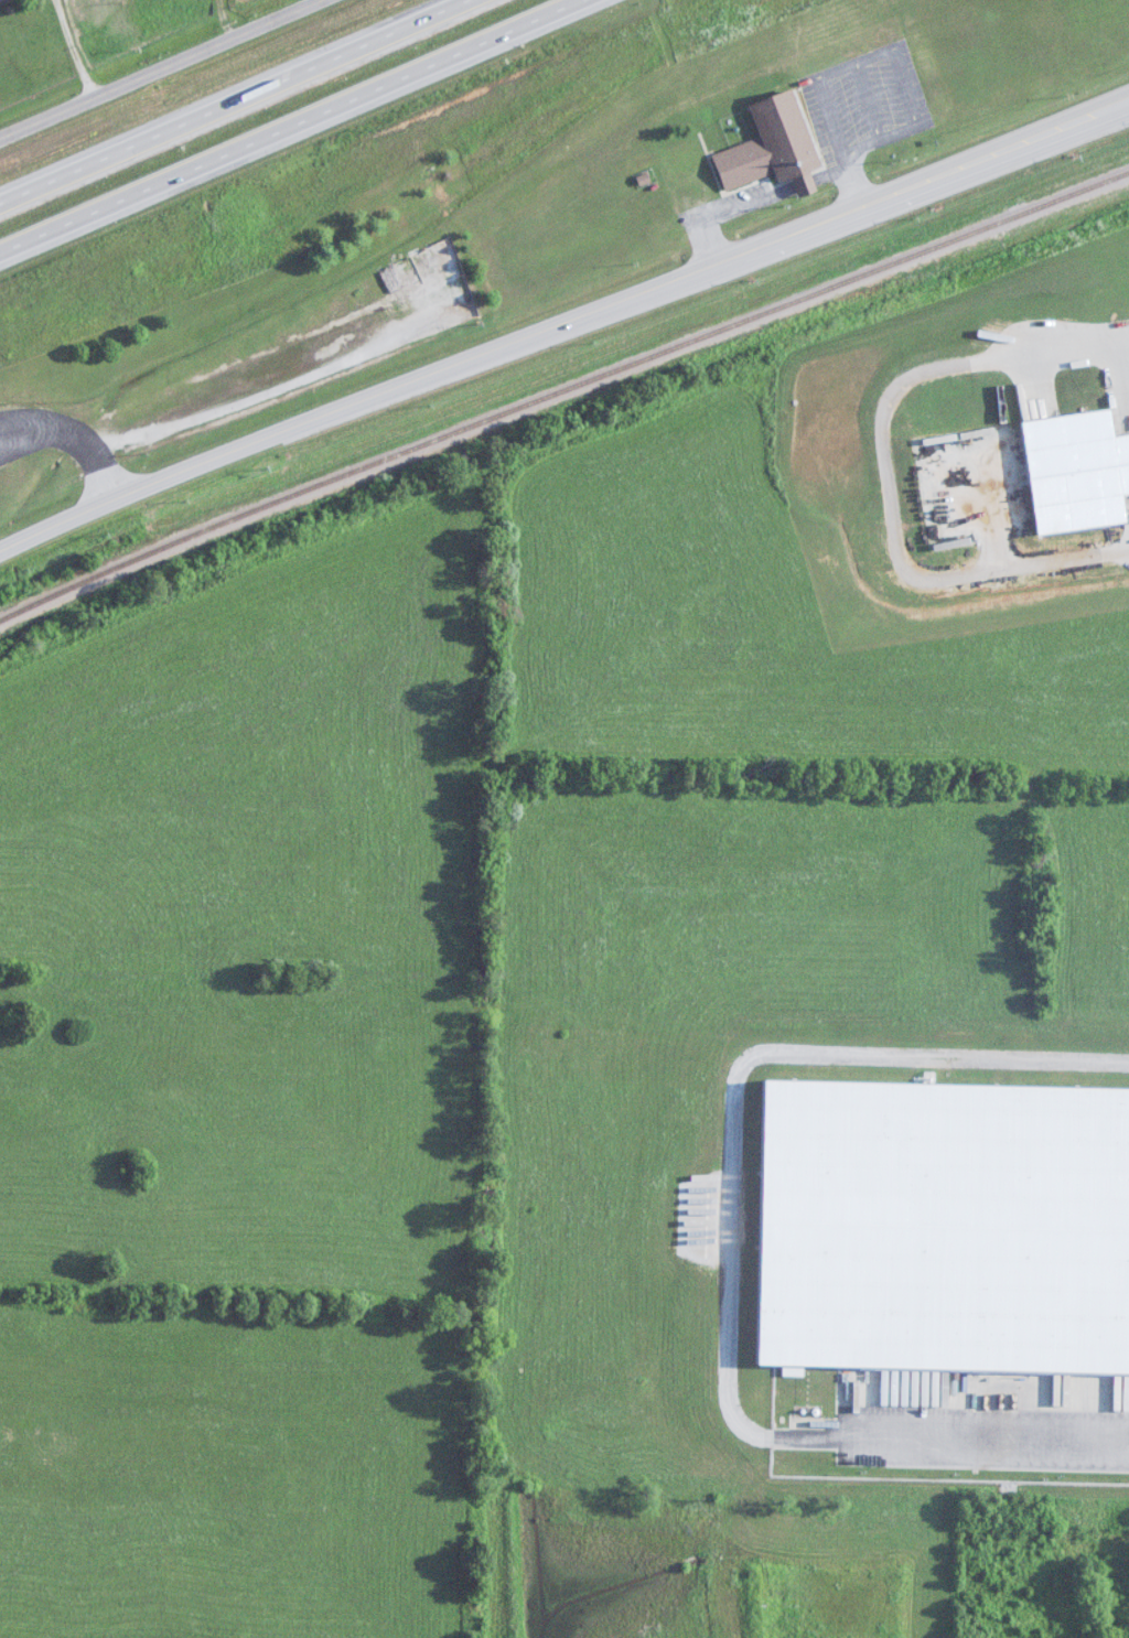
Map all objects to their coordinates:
building: (1, 0)
road: (223, 20)
road: (896, 47)
road: (72, 50)
road: (164, 67)
road: (877, 99)
road: (247, 107)
road: (301, 130)
building: (783, 144)
road: (782, 193)
road: (562, 325)
road: (1121, 334)
road: (280, 386)
railway: (561, 390)
road: (79, 430)
road: (884, 477)
crop: (266, 764)
road: (749, 1066)
crop: (244, 1133)
building: (951, 1226)
road: (953, 1442)

